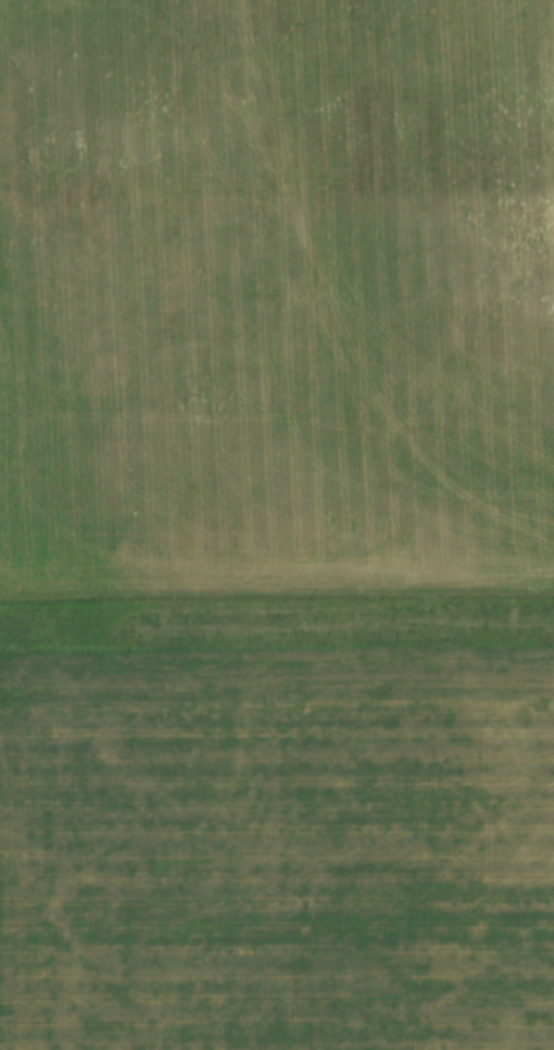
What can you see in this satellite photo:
road: (277, 627)

